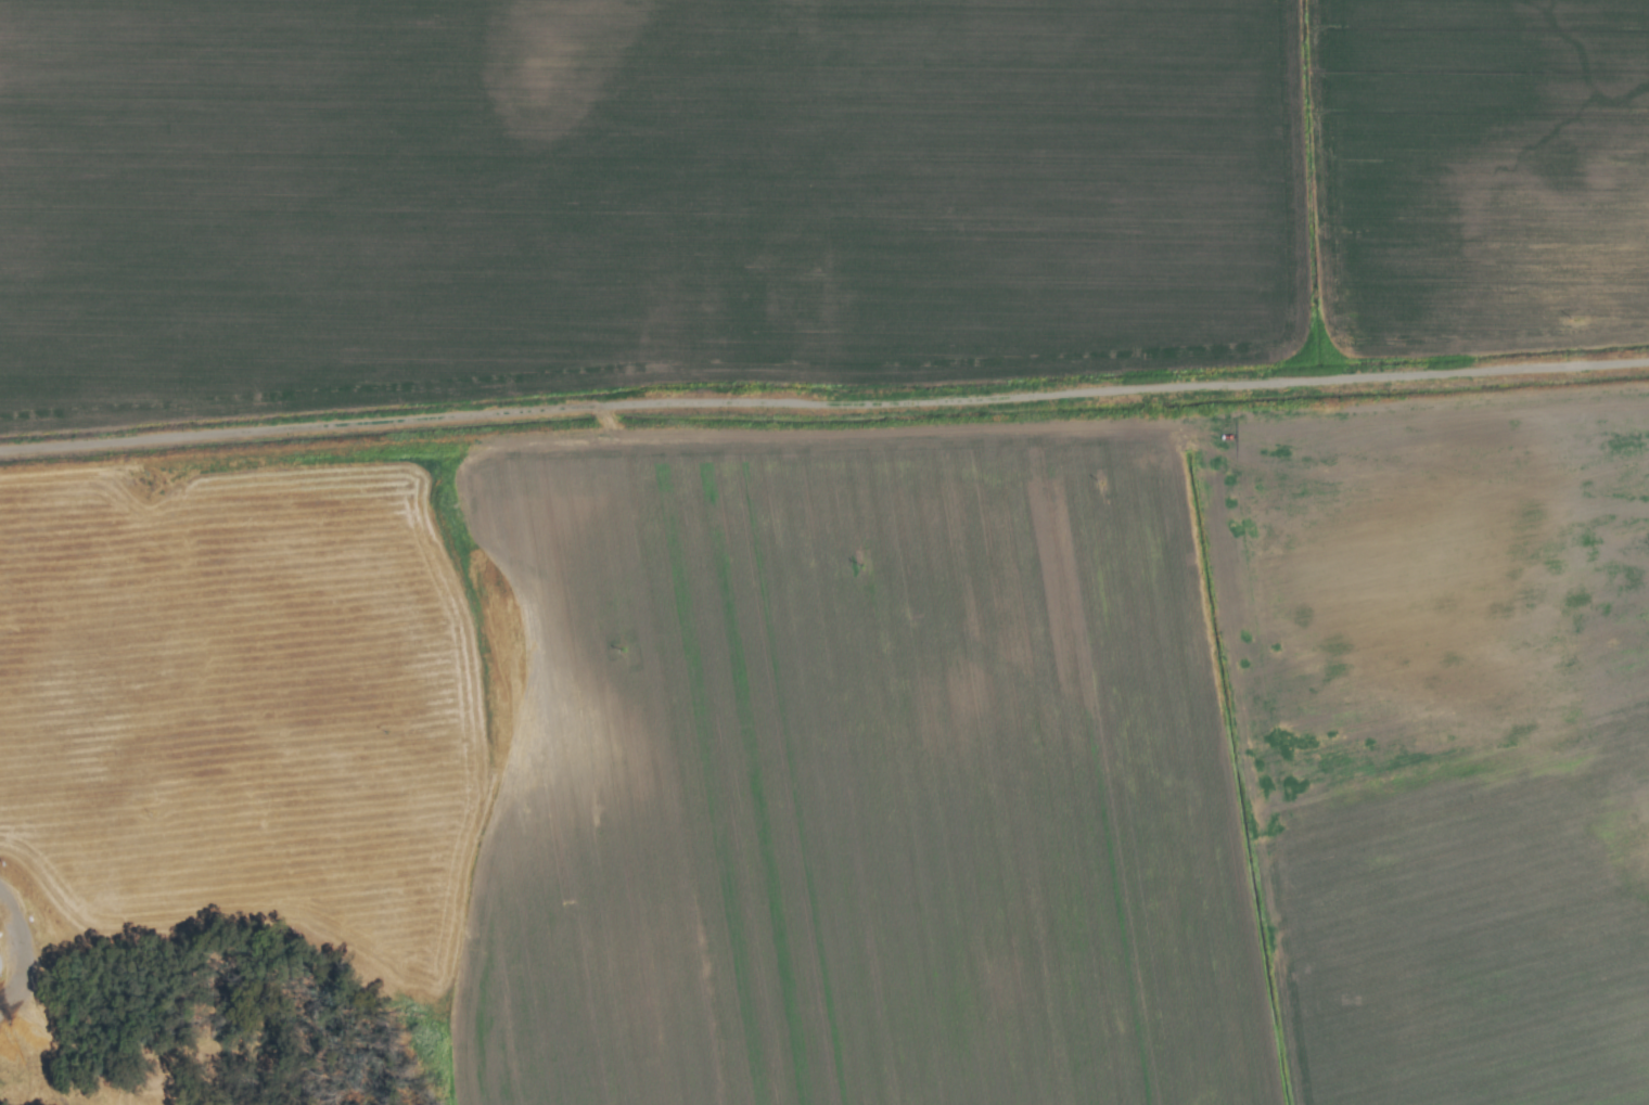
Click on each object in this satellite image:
road: (823, 404)
crop: (824, 552)

